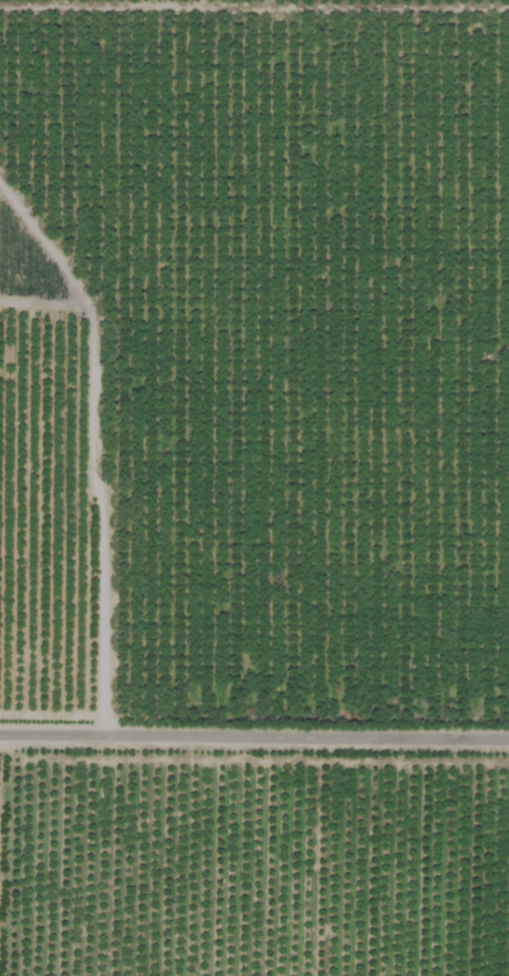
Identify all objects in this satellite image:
crop: (254, 488)
road: (254, 732)

